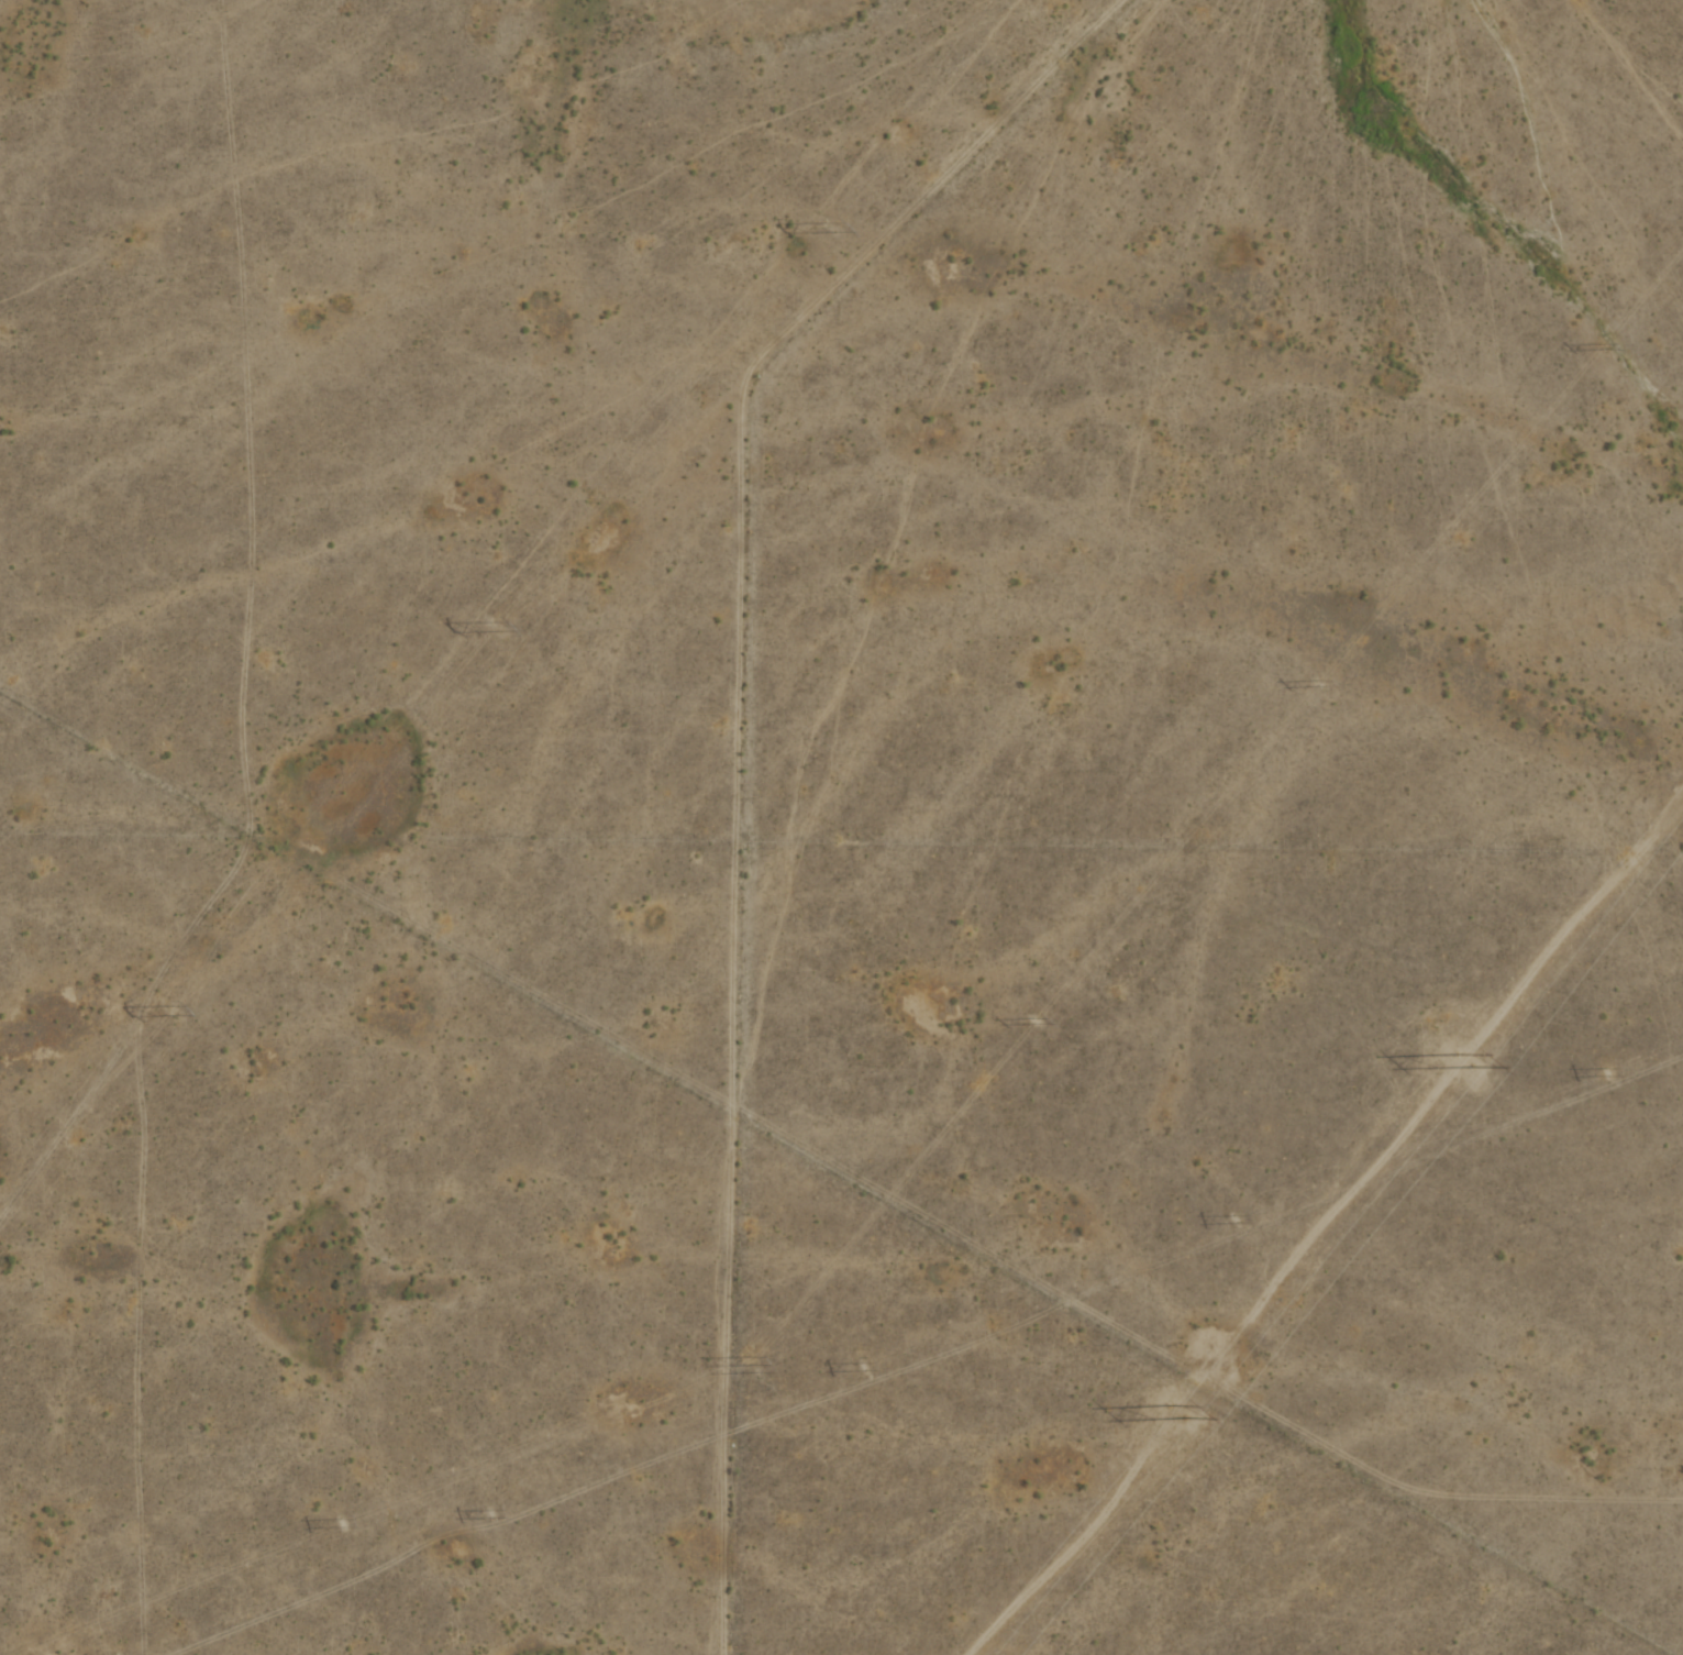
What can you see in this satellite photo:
power tower: (827, 229)
power tower: (1598, 349)
power tower: (492, 628)
power tower: (1313, 682)
power tower: (170, 1012)
power tower: (1031, 1023)
power tower: (1455, 1060)
power tower: (1602, 1072)
power tower: (1230, 1220)
power tower: (748, 1365)
power tower: (860, 1367)
power tower: (1167, 1411)
power tower: (487, 1515)
power tower: (337, 1523)

